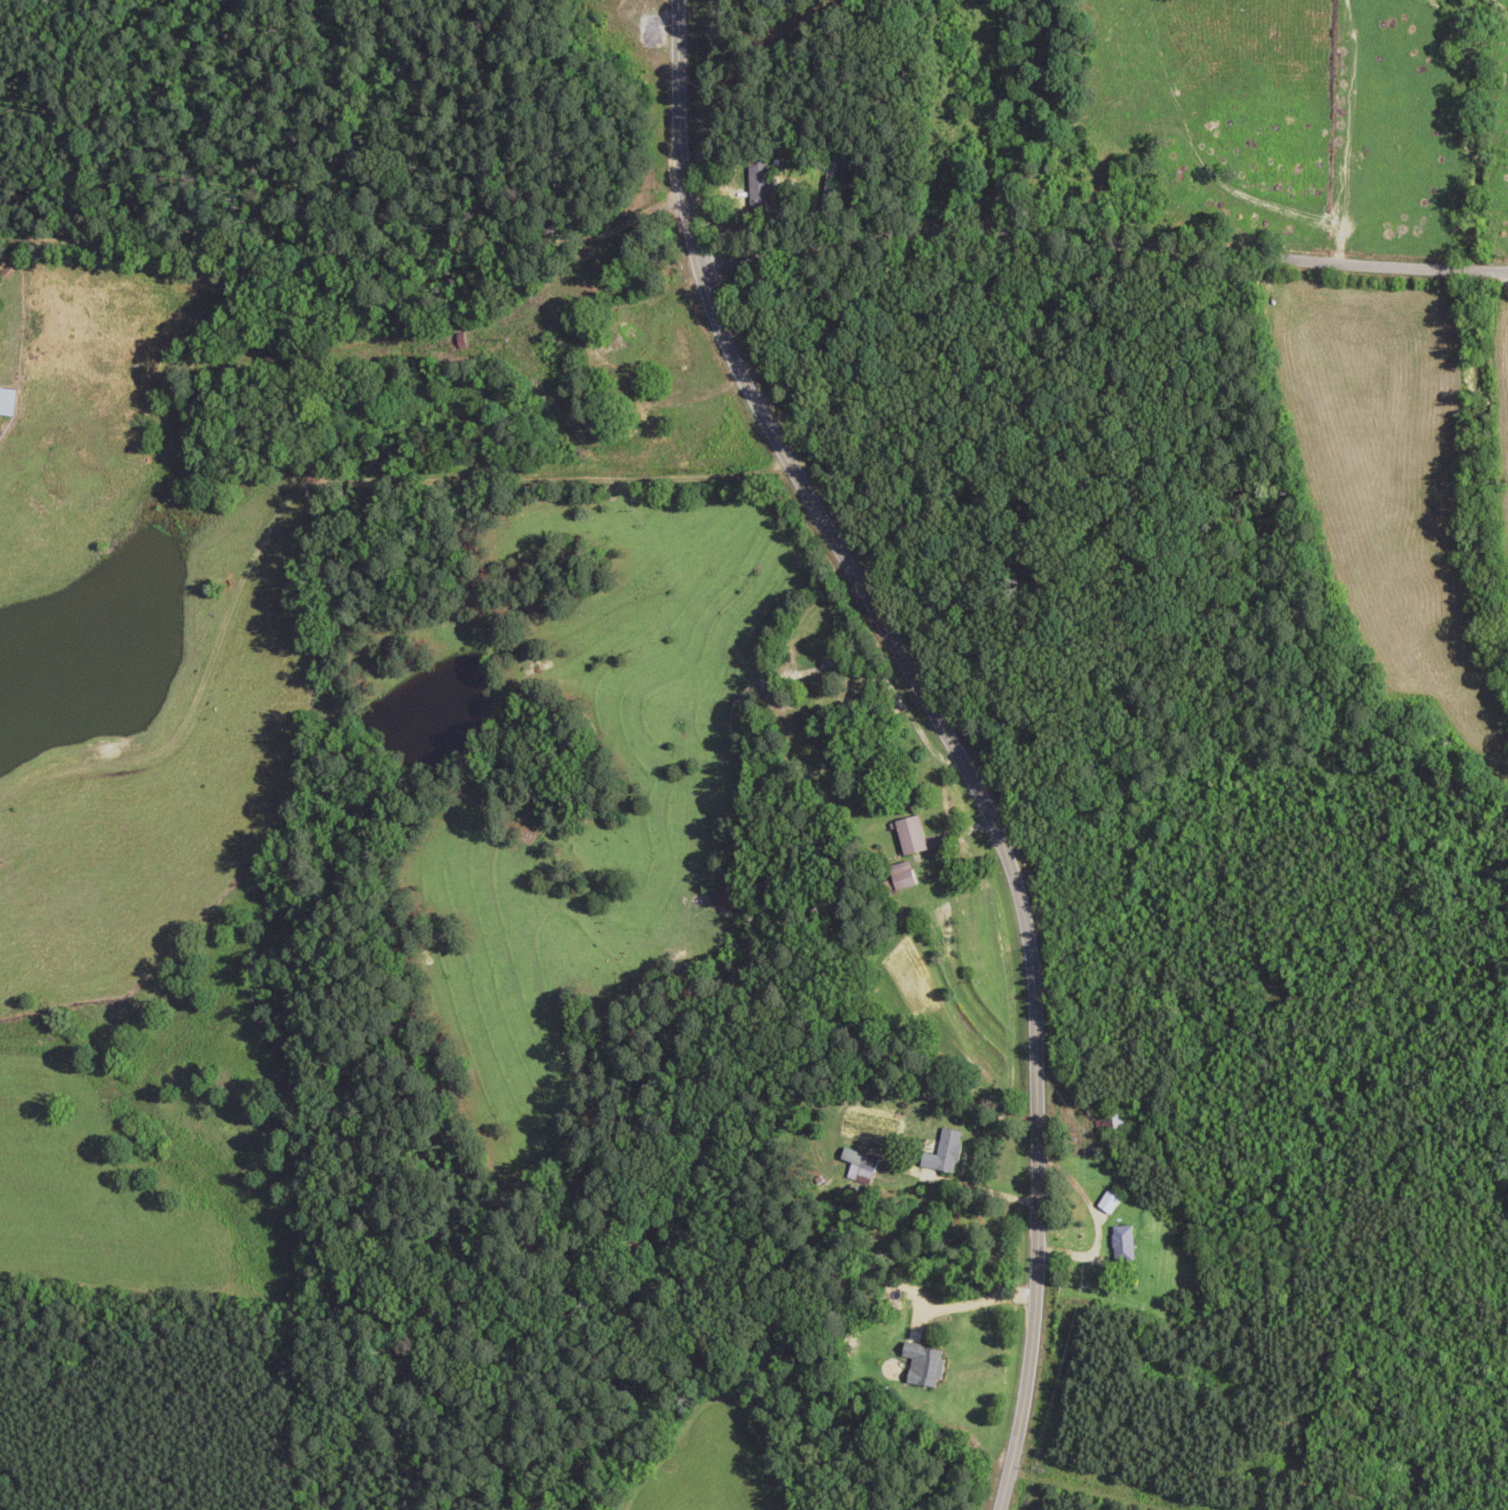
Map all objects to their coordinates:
building: (756, 188)
road: (663, 218)
road: (368, 246)
road: (1110, 257)
building: (555, 345)
building: (6, 403)
road: (948, 731)
building: (910, 837)
building: (901, 877)
building: (727, 896)
building: (1107, 1119)
building: (942, 1154)
building: (859, 1168)
building: (1121, 1246)
building: (923, 1367)
road: (1133, 1453)

